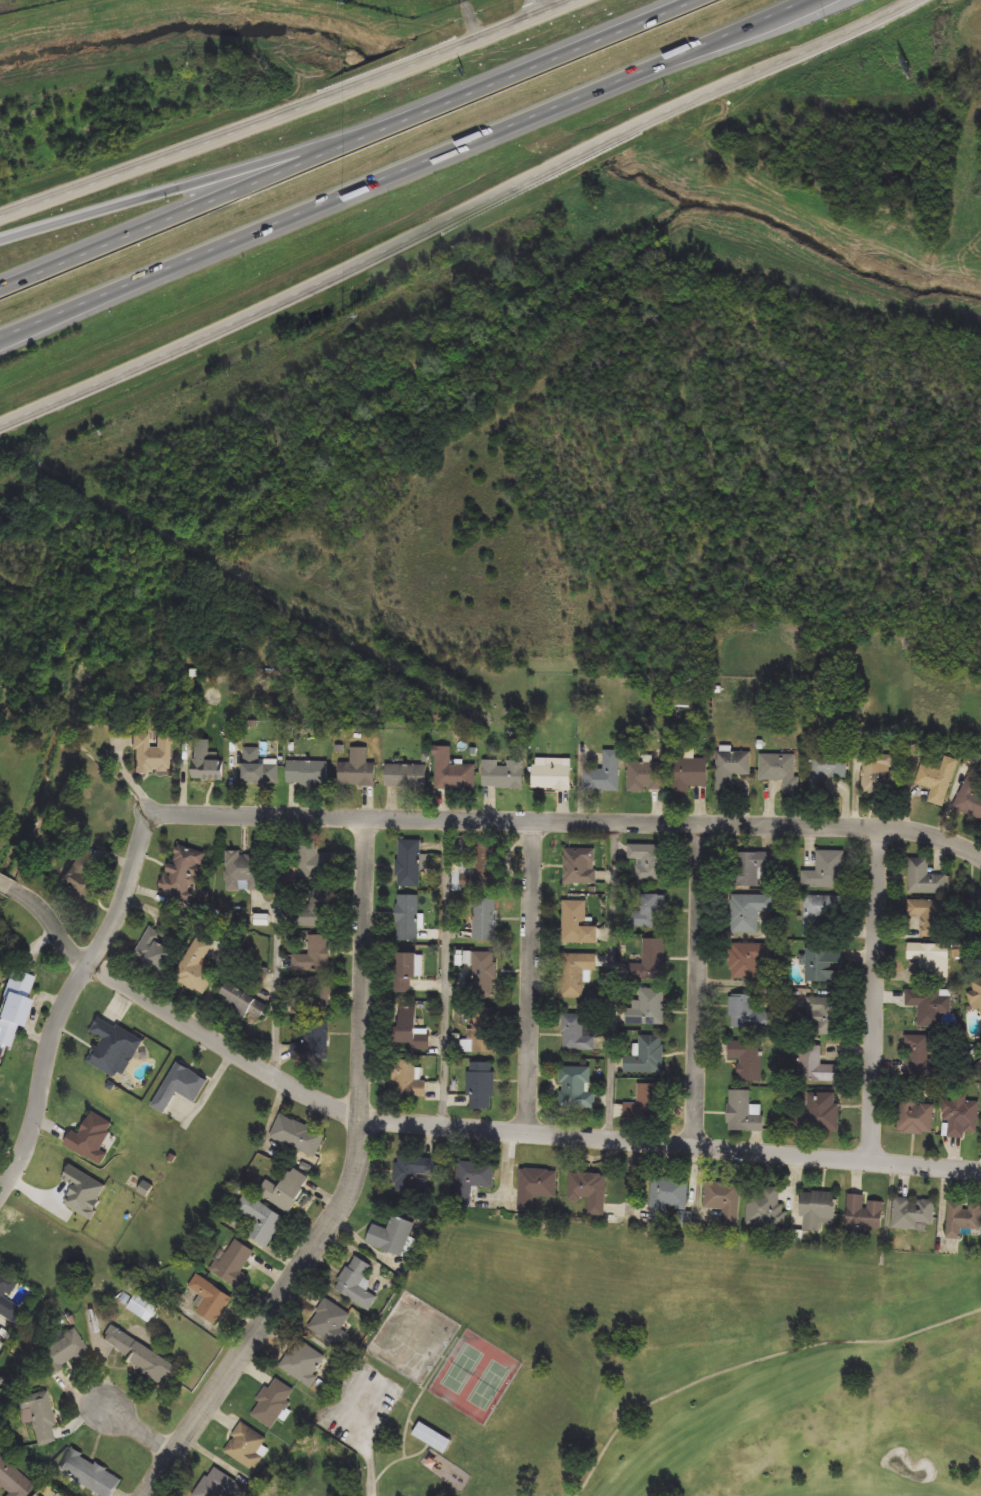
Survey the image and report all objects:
road: (531, 8)
road: (288, 111)
road: (347, 145)
road: (407, 170)
road: (215, 178)
road: (458, 214)
building: (150, 753)
building: (205, 762)
building: (731, 768)
building: (258, 769)
building: (356, 769)
building: (828, 770)
building: (452, 771)
building: (780, 771)
building: (307, 773)
building: (691, 773)
building: (503, 774)
building: (880, 774)
building: (406, 775)
building: (551, 775)
building: (603, 776)
building: (648, 776)
building: (937, 779)
building: (971, 794)
road: (366, 815)
building: (488, 860)
building: (313, 863)
building: (408, 863)
building: (648, 863)
building: (580, 865)
building: (753, 867)
building: (79, 871)
building: (182, 871)
building: (245, 871)
building: (827, 871)
building: (924, 878)
building: (977, 901)
building: (311, 911)
building: (648, 911)
building: (749, 912)
building: (821, 914)
building: (407, 918)
building: (929, 918)
building: (485, 919)
building: (578, 923)
building: (980, 942)
road: (277, 943)
building: (154, 950)
building: (314, 955)
building: (749, 959)
building: (931, 959)
building: (652, 960)
building: (823, 965)
building: (195, 967)
road: (444, 971)
building: (405, 973)
building: (576, 973)
building: (484, 975)
road: (532, 976)
road: (612, 979)
road: (701, 983)
road: (876, 991)
building: (319, 996)
building: (976, 997)
building: (13, 1006)
building: (241, 1006)
building: (930, 1006)
building: (647, 1008)
building: (748, 1014)
building: (823, 1016)
building: (483, 1030)
building: (409, 1033)
building: (578, 1033)
building: (312, 1043)
building: (112, 1046)
building: (919, 1055)
building: (647, 1056)
building: (747, 1059)
building: (817, 1066)
building: (406, 1080)
building: (481, 1086)
building: (179, 1087)
building: (575, 1088)
building: (643, 1103)
building: (743, 1113)
building: (819, 1113)
building: (915, 1117)
building: (960, 1117)
road: (452, 1124)
building: (298, 1136)
building: (91, 1138)
building: (415, 1174)
building: (470, 1181)
road: (353, 1186)
building: (536, 1187)
building: (284, 1188)
building: (589, 1190)
building: (82, 1193)
building: (668, 1196)
building: (725, 1200)
building: (766, 1207)
building: (817, 1210)
building: (913, 1214)
building: (864, 1215)
building: (963, 1219)
building: (260, 1221)
building: (392, 1236)
building: (233, 1263)
building: (356, 1284)
building: (5, 1291)
building: (210, 1299)
building: (142, 1308)
building: (330, 1322)
building: (60, 1351)
building: (138, 1354)
park: (736, 1358)
road: (755, 1361)
building: (304, 1362)
park: (472, 1377)
park: (446, 1389)
building: (273, 1403)
parking lot: (362, 1410)
building: (37, 1416)
road: (136, 1437)
building: (432, 1438)
building: (247, 1446)
building: (89, 1474)
building: (13, 1480)
building: (219, 1485)

